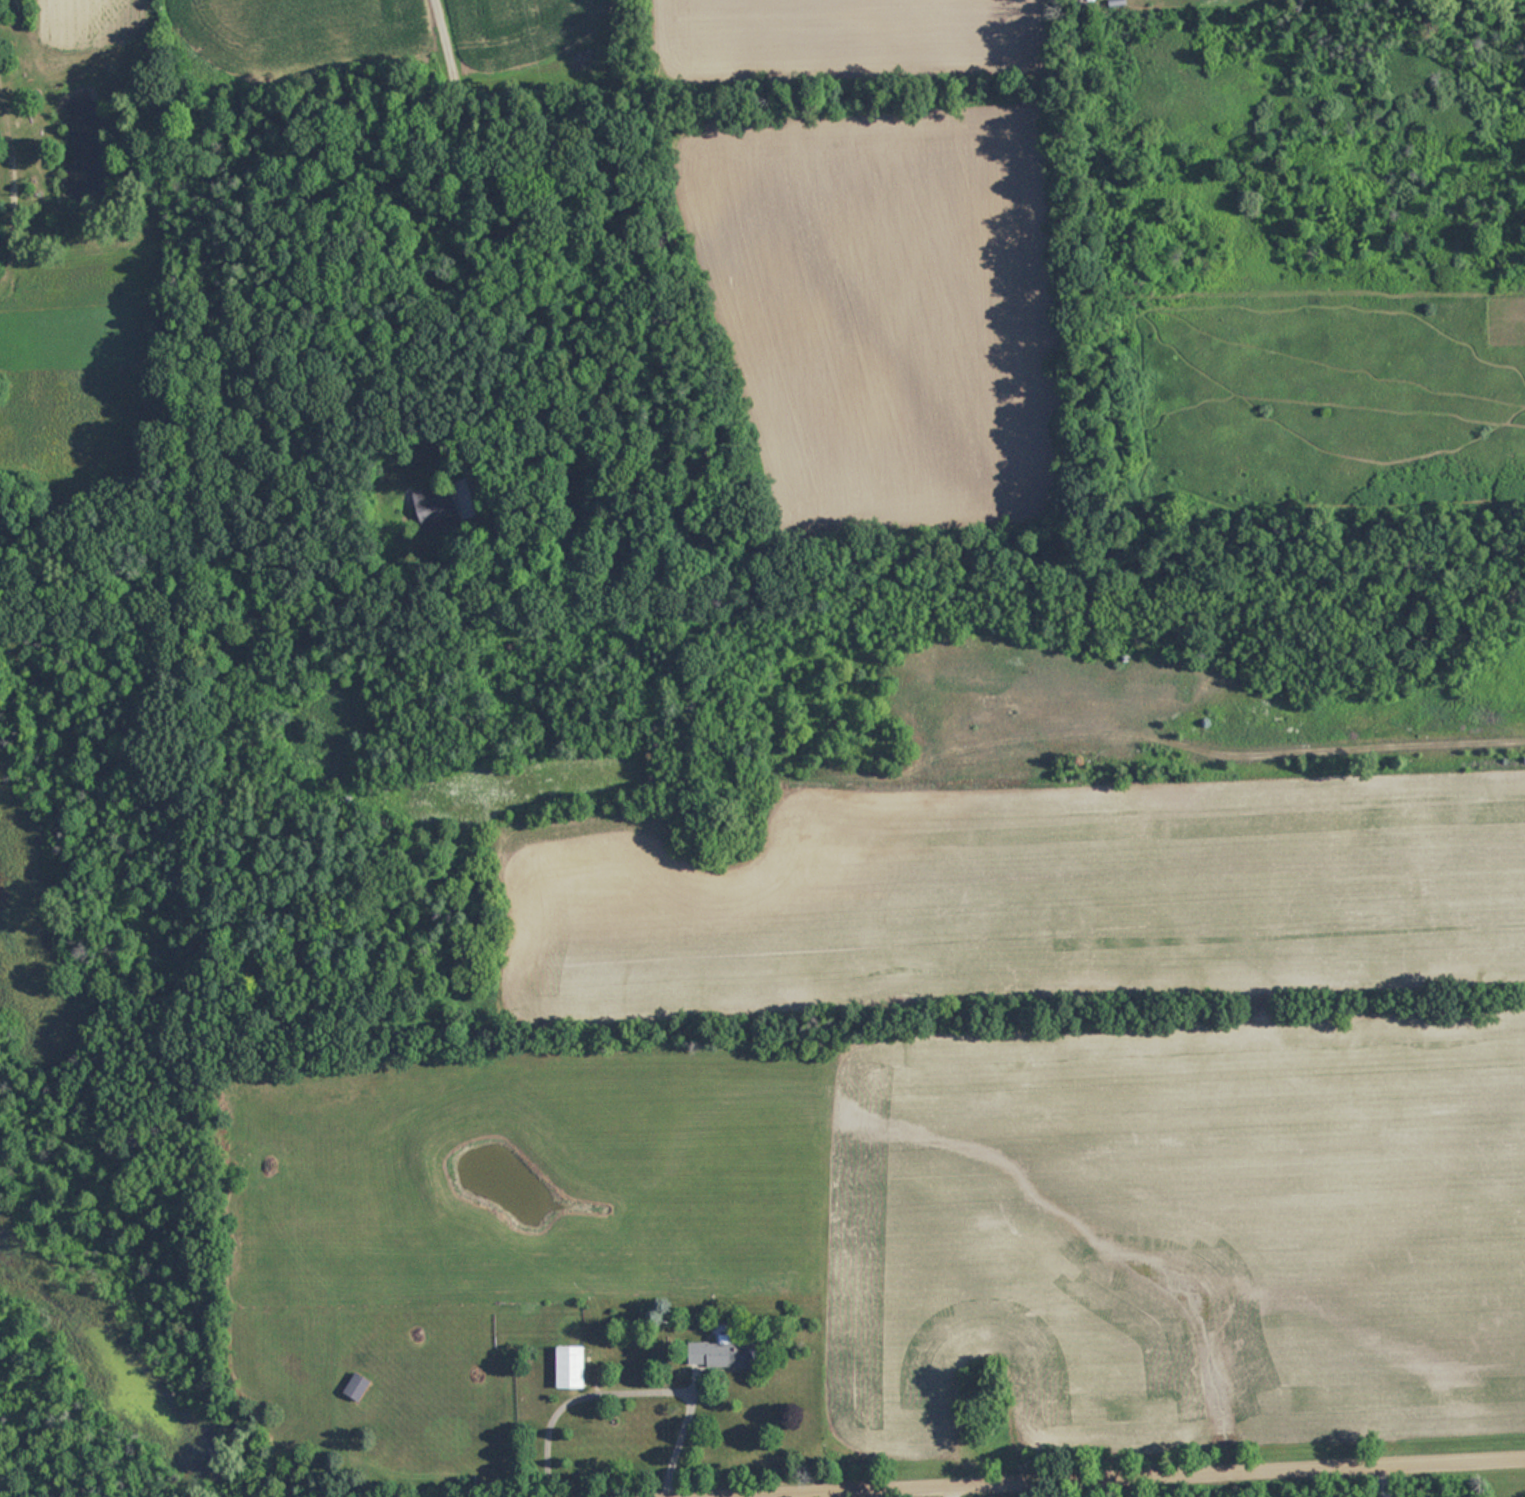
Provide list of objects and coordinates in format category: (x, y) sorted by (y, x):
road: (441, 40)
building: (723, 1354)
building: (572, 1368)
building: (357, 1386)
road: (986, 1473)
road: (1387, 1476)
road: (953, 1486)
road: (879, 1487)
road: (781, 1490)
road: (706, 1491)

